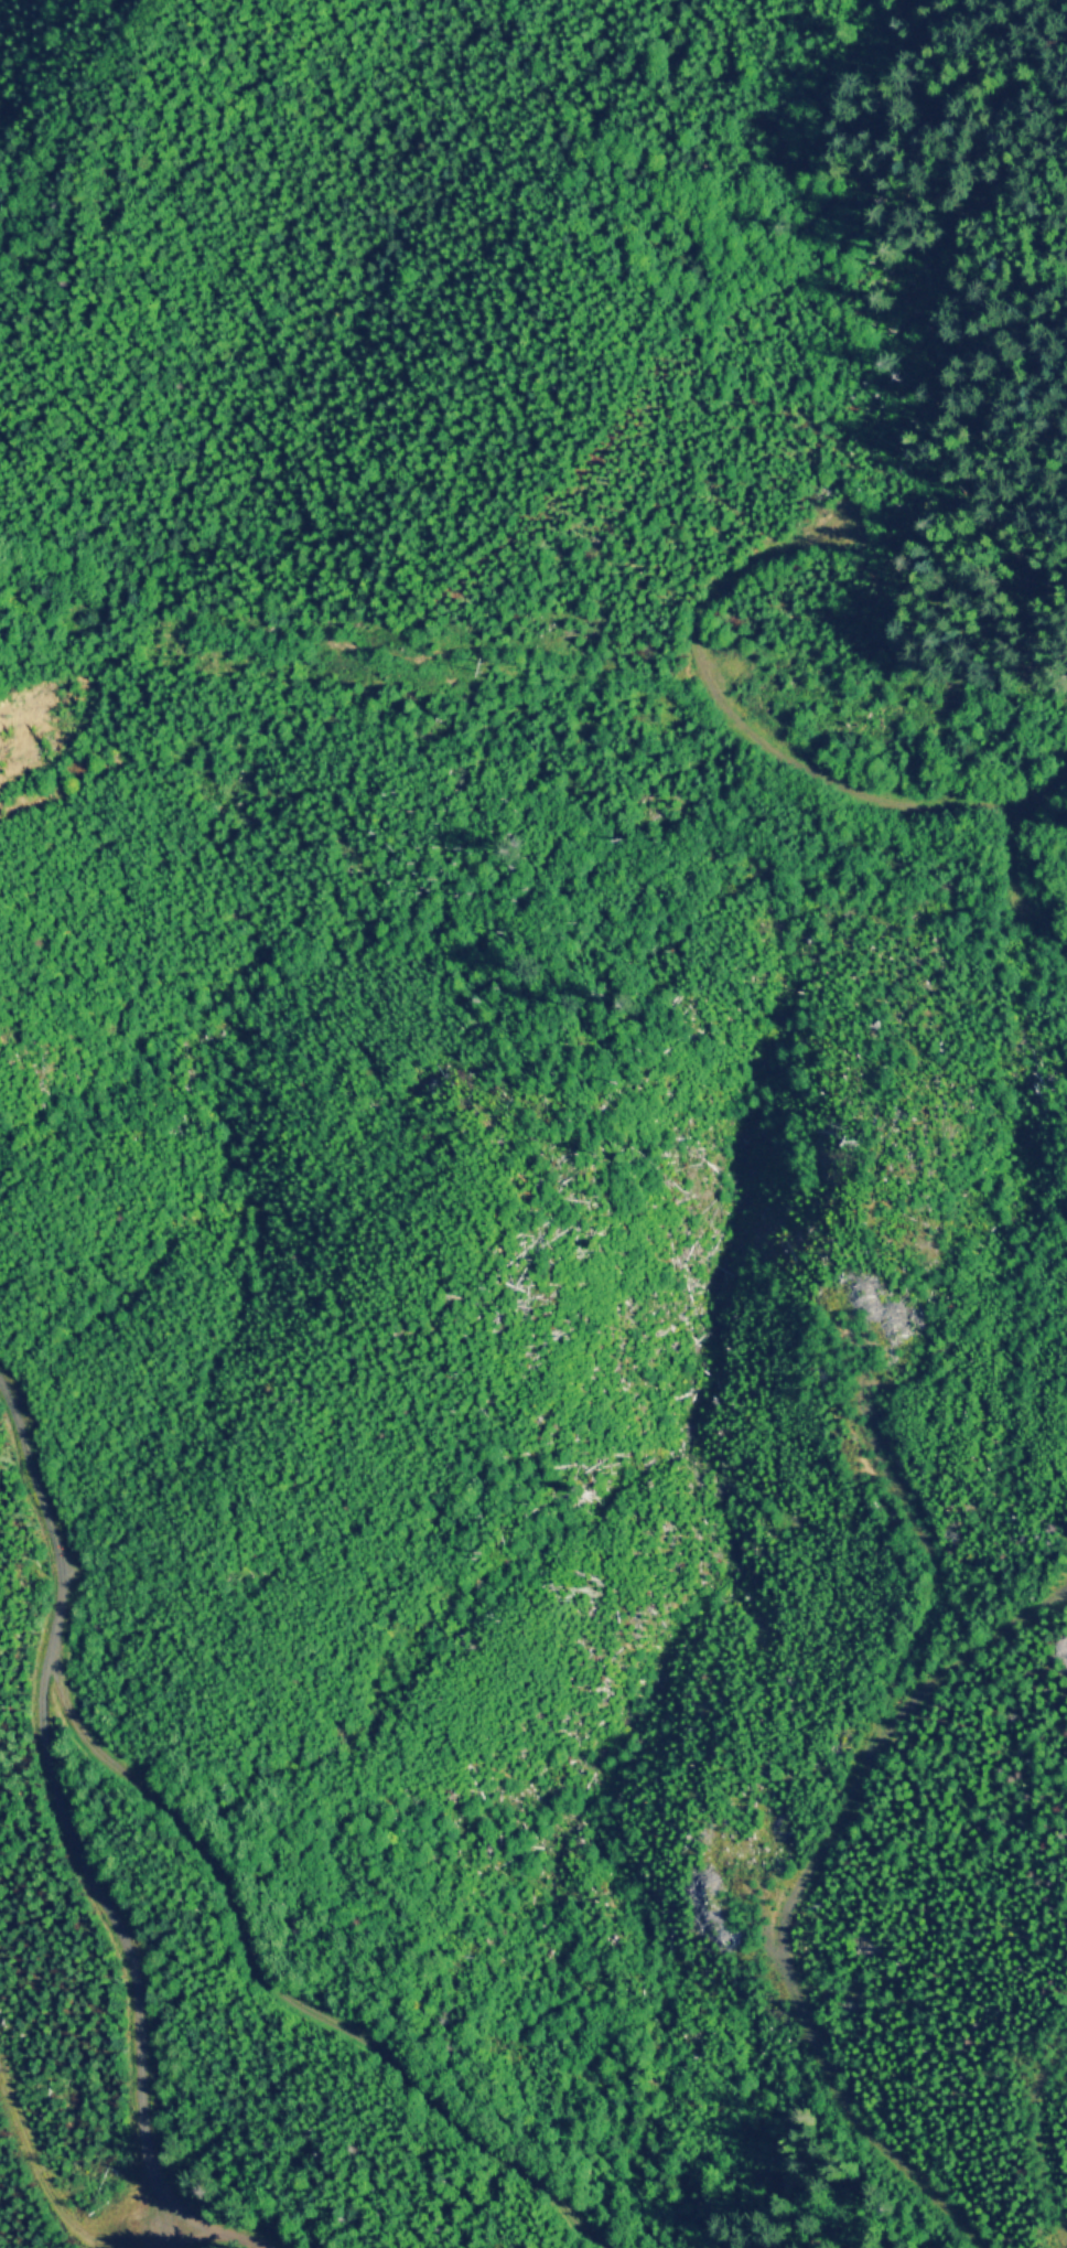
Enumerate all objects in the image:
road: (773, 745)
road: (1020, 888)
road: (61, 1855)
road: (798, 1897)
road: (274, 1984)
road: (1033, 2145)
road: (196, 2239)

